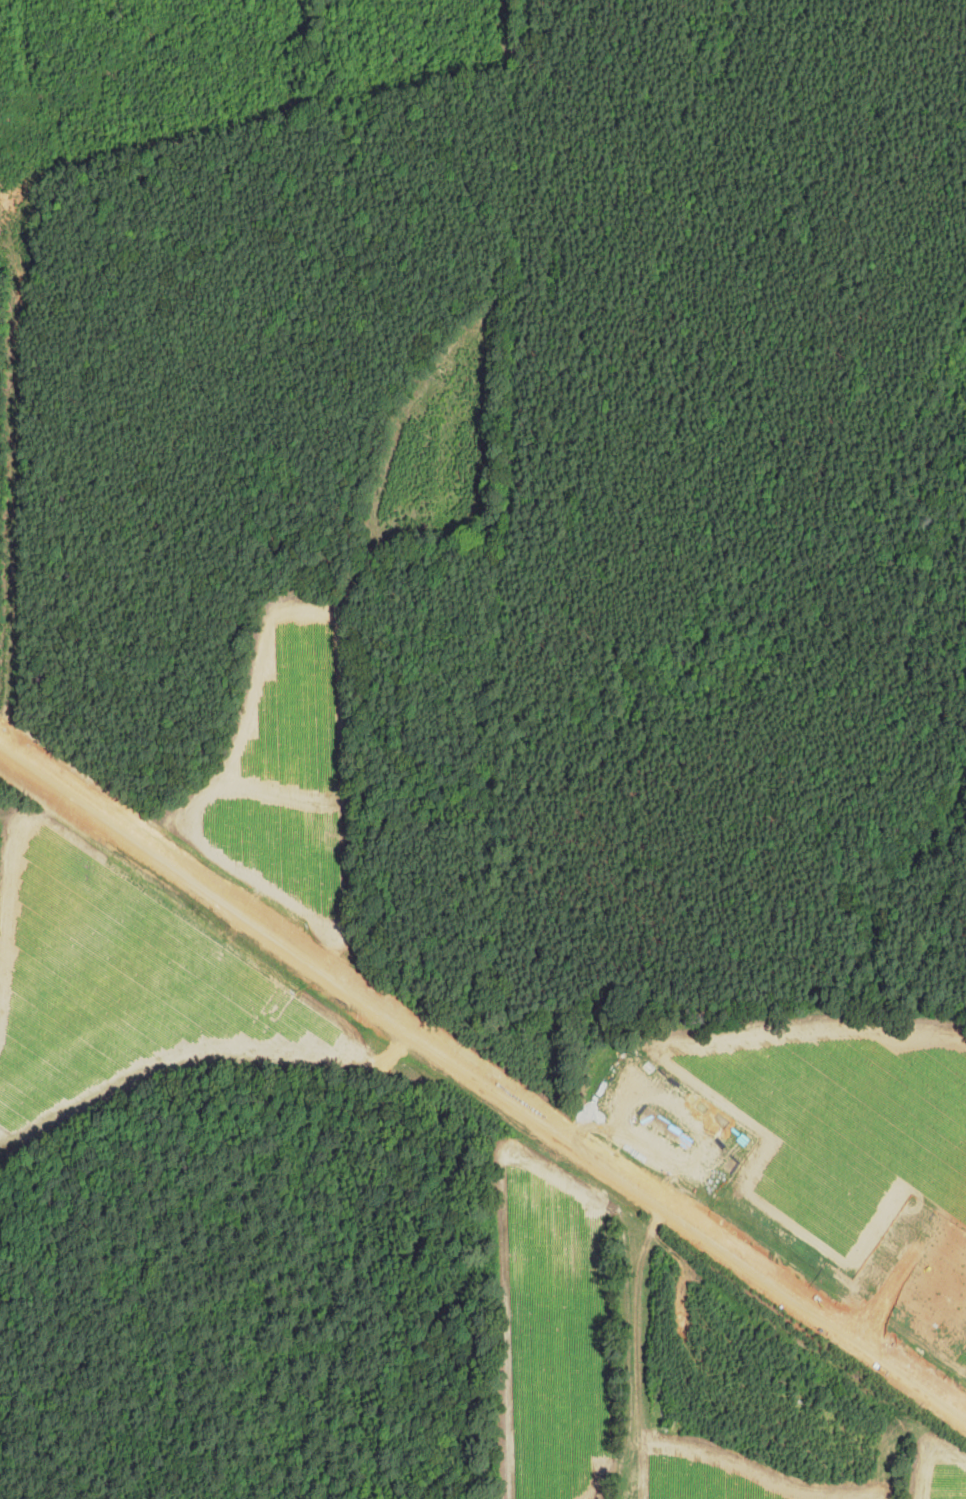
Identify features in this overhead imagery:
road: (483, 1085)

